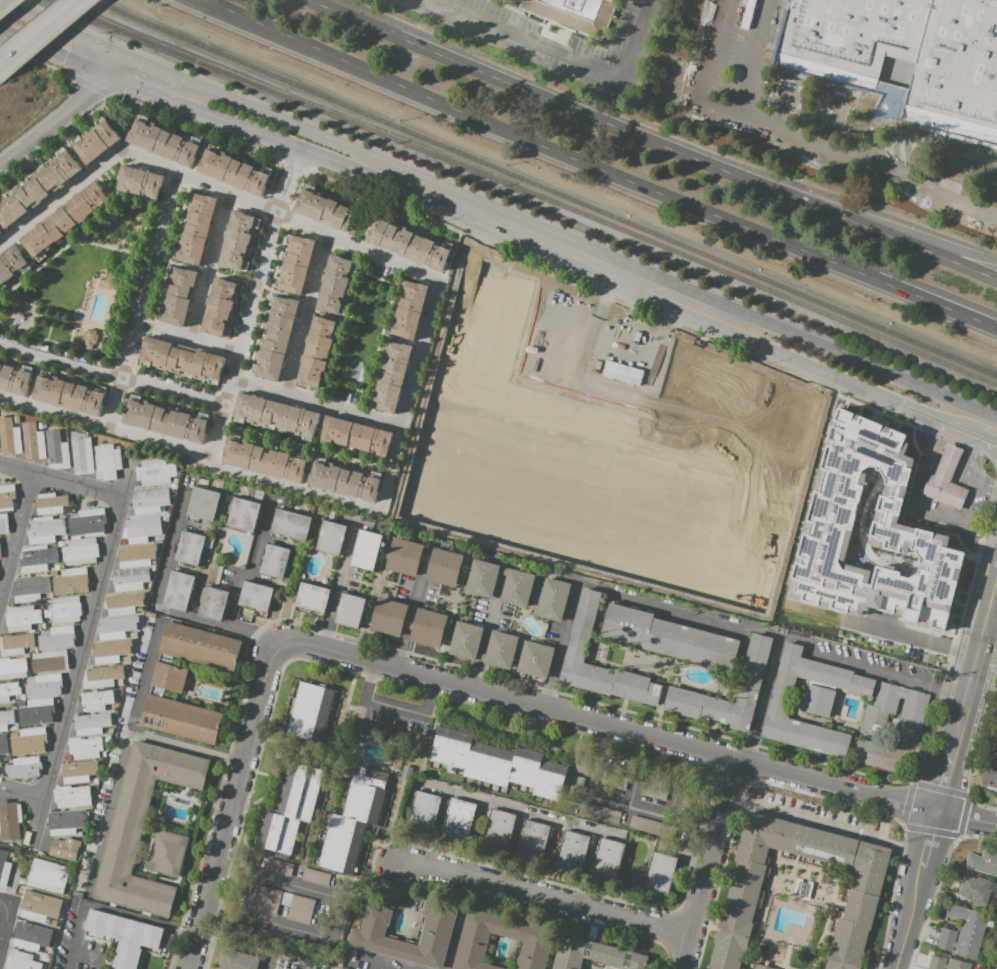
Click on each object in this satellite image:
road: (0, 0)
road: (344, 10)
building: (575, 15)
road: (55, 30)
road: (39, 32)
road: (565, 52)
traffic signals: (111, 54)
building: (904, 55)
road: (752, 56)
road: (146, 68)
traffic signals: (102, 75)
road: (786, 103)
road: (63, 115)
road: (826, 122)
road: (799, 137)
road: (539, 140)
road: (651, 140)
building: (97, 142)
building: (163, 143)
road: (904, 152)
building: (234, 171)
road: (410, 172)
road: (954, 173)
building: (139, 183)
railway: (543, 188)
building: (38, 189)
railway: (522, 191)
road: (60, 197)
building: (324, 210)
road: (450, 210)
road: (280, 213)
building: (66, 222)
building: (197, 229)
building: (0, 234)
building: (0, 236)
building: (239, 241)
building: (410, 245)
road: (959, 257)
building: (297, 265)
building: (11, 266)
road: (209, 267)
building: (335, 284)
road: (677, 284)
building: (178, 295)
road: (141, 298)
park: (72, 299)
road: (250, 304)
road: (937, 305)
building: (220, 306)
building: (409, 310)
road: (305, 313)
park: (363, 334)
building: (89, 338)
building: (278, 339)
road: (185, 340)
building: (317, 352)
road: (857, 360)
building: (181, 361)
road: (111, 376)
building: (392, 376)
building: (14, 378)
building: (703, 380)
building: (68, 394)
road: (408, 395)
road: (315, 401)
building: (784, 411)
building: (276, 416)
road: (937, 416)
building: (165, 421)
building: (40, 426)
building: (63, 429)
building: (356, 435)
building: (9, 437)
road: (987, 437)
building: (65, 438)
building: (33, 442)
road: (987, 443)
road: (973, 449)
building: (56, 450)
road: (191, 450)
building: (82, 455)
road: (951, 456)
building: (848, 457)
building: (106, 461)
building: (264, 461)
building: (948, 462)
gas station: (948, 462)
building: (653, 471)
building: (155, 473)
road: (61, 479)
building: (175, 481)
building: (344, 481)
building: (684, 482)
road: (206, 484)
building: (173, 487)
building: (945, 491)
building: (712, 495)
building: (6, 497)
building: (150, 501)
building: (741, 501)
building: (50, 503)
building: (204, 504)
building: (71, 510)
building: (772, 512)
building: (243, 514)
road: (968, 514)
building: (87, 522)
building: (4, 524)
building: (290, 525)
building: (142, 529)
building: (44, 530)
road: (16, 533)
building: (331, 536)
building: (66, 537)
building: (59, 543)
road: (979, 545)
building: (191, 548)
building: (366, 549)
building: (151, 550)
building: (80, 551)
building: (133, 557)
building: (404, 557)
building: (37, 559)
building: (274, 561)
road: (251, 566)
building: (444, 566)
building: (57, 567)
building: (53, 572)
building: (871, 572)
building: (482, 579)
building: (130, 580)
building: (70, 581)
building: (683, 586)
building: (517, 587)
building: (30, 589)
building: (179, 590)
building: (256, 596)
building: (312, 597)
building: (42, 599)
building: (553, 599)
building: (48, 601)
building: (123, 603)
building: (213, 604)
building: (65, 609)
road: (992, 609)
building: (351, 611)
building: (45, 613)
road: (409, 615)
building: (388, 616)
road: (710, 617)
building: (22, 618)
building: (139, 618)
building: (43, 626)
building: (428, 627)
building: (115, 628)
building: (582, 628)
road: (486, 634)
building: (57, 637)
building: (669, 637)
road: (908, 638)
building: (466, 640)
building: (15, 644)
building: (200, 646)
building: (501, 649)
building: (29, 650)
road: (82, 650)
building: (110, 652)
building: (27, 655)
building: (536, 659)
building: (50, 660)
building: (125, 660)
road: (985, 660)
road: (971, 667)
building: (13, 668)
building: (101, 677)
building: (169, 677)
building: (751, 679)
building: (120, 683)
building: (46, 684)
road: (982, 687)
building: (8, 692)
building: (30, 696)
building: (22, 697)
road: (763, 698)
building: (97, 700)
building: (817, 700)
building: (21, 704)
building: (779, 707)
road: (397, 708)
building: (114, 711)
building: (37, 712)
building: (315, 714)
parking lot: (395, 715)
building: (181, 718)
building: (6, 719)
building: (910, 723)
building: (91, 724)
building: (14, 728)
building: (108, 731)
road: (638, 732)
building: (28, 742)
building: (3, 744)
building: (995, 746)
building: (85, 747)
road: (123, 754)
building: (103, 755)
building: (8, 757)
building: (497, 767)
building: (26, 769)
building: (78, 773)
building: (615, 775)
building: (993, 776)
building: (95, 781)
road: (938, 784)
building: (654, 786)
road: (22, 791)
building: (71, 796)
road: (615, 802)
road: (230, 806)
building: (295, 809)
building: (424, 810)
building: (601, 813)
building: (458, 818)
building: (354, 819)
building: (9, 821)
building: (66, 822)
road: (824, 825)
building: (141, 827)
building: (652, 827)
building: (498, 829)
building: (79, 834)
road: (926, 838)
building: (532, 840)
building: (64, 848)
building: (574, 852)
building: (167, 853)
building: (608, 858)
building: (983, 861)
road: (705, 863)
building: (279, 867)
building: (4, 869)
road: (23, 872)
building: (661, 872)
building: (47, 875)
building: (316, 877)
building: (976, 889)
building: (743, 894)
building: (819, 894)
road: (544, 895)
building: (266, 901)
building: (39, 906)
parking lot: (295, 909)
building: (300, 910)
road: (108, 911)
road: (908, 917)
road: (8, 920)
road: (336, 921)
building: (241, 930)
building: (963, 932)
building: (367, 933)
building: (31, 936)
building: (123, 936)
building: (268, 937)
building: (529, 938)
building: (293, 943)
building: (598, 955)
building: (238, 960)
building: (21, 961)
road: (387, 961)
building: (947, 963)
building: (762, 967)
building: (292, 968)

